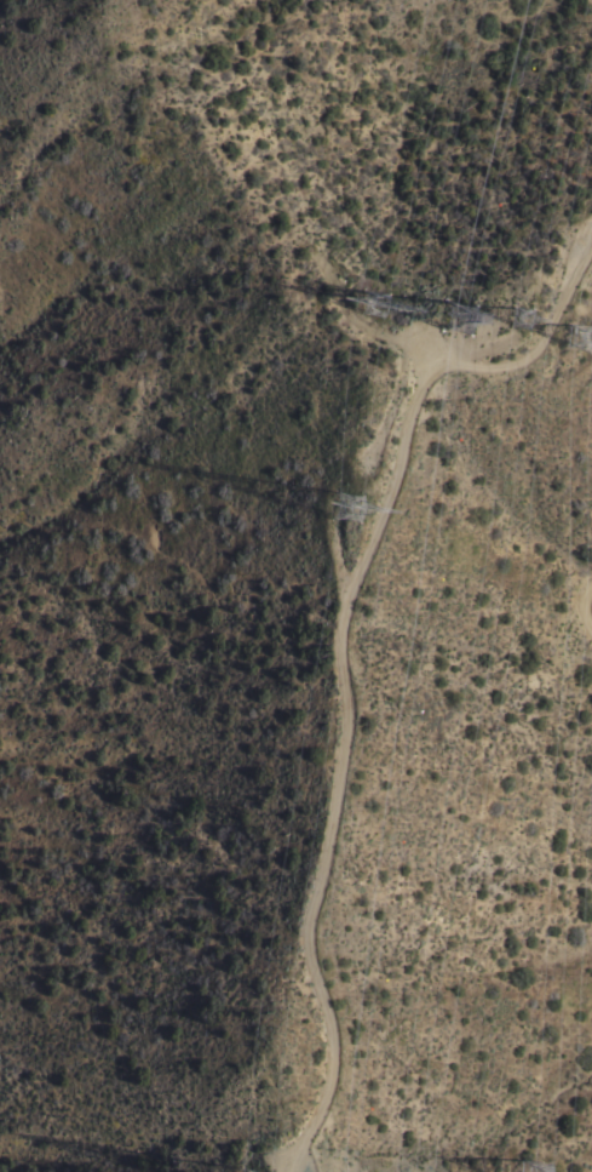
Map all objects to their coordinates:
power tower: (389, 308)
power tower: (473, 311)
power tower: (530, 327)
power tower: (590, 342)
power tower: (355, 516)
road: (335, 644)

